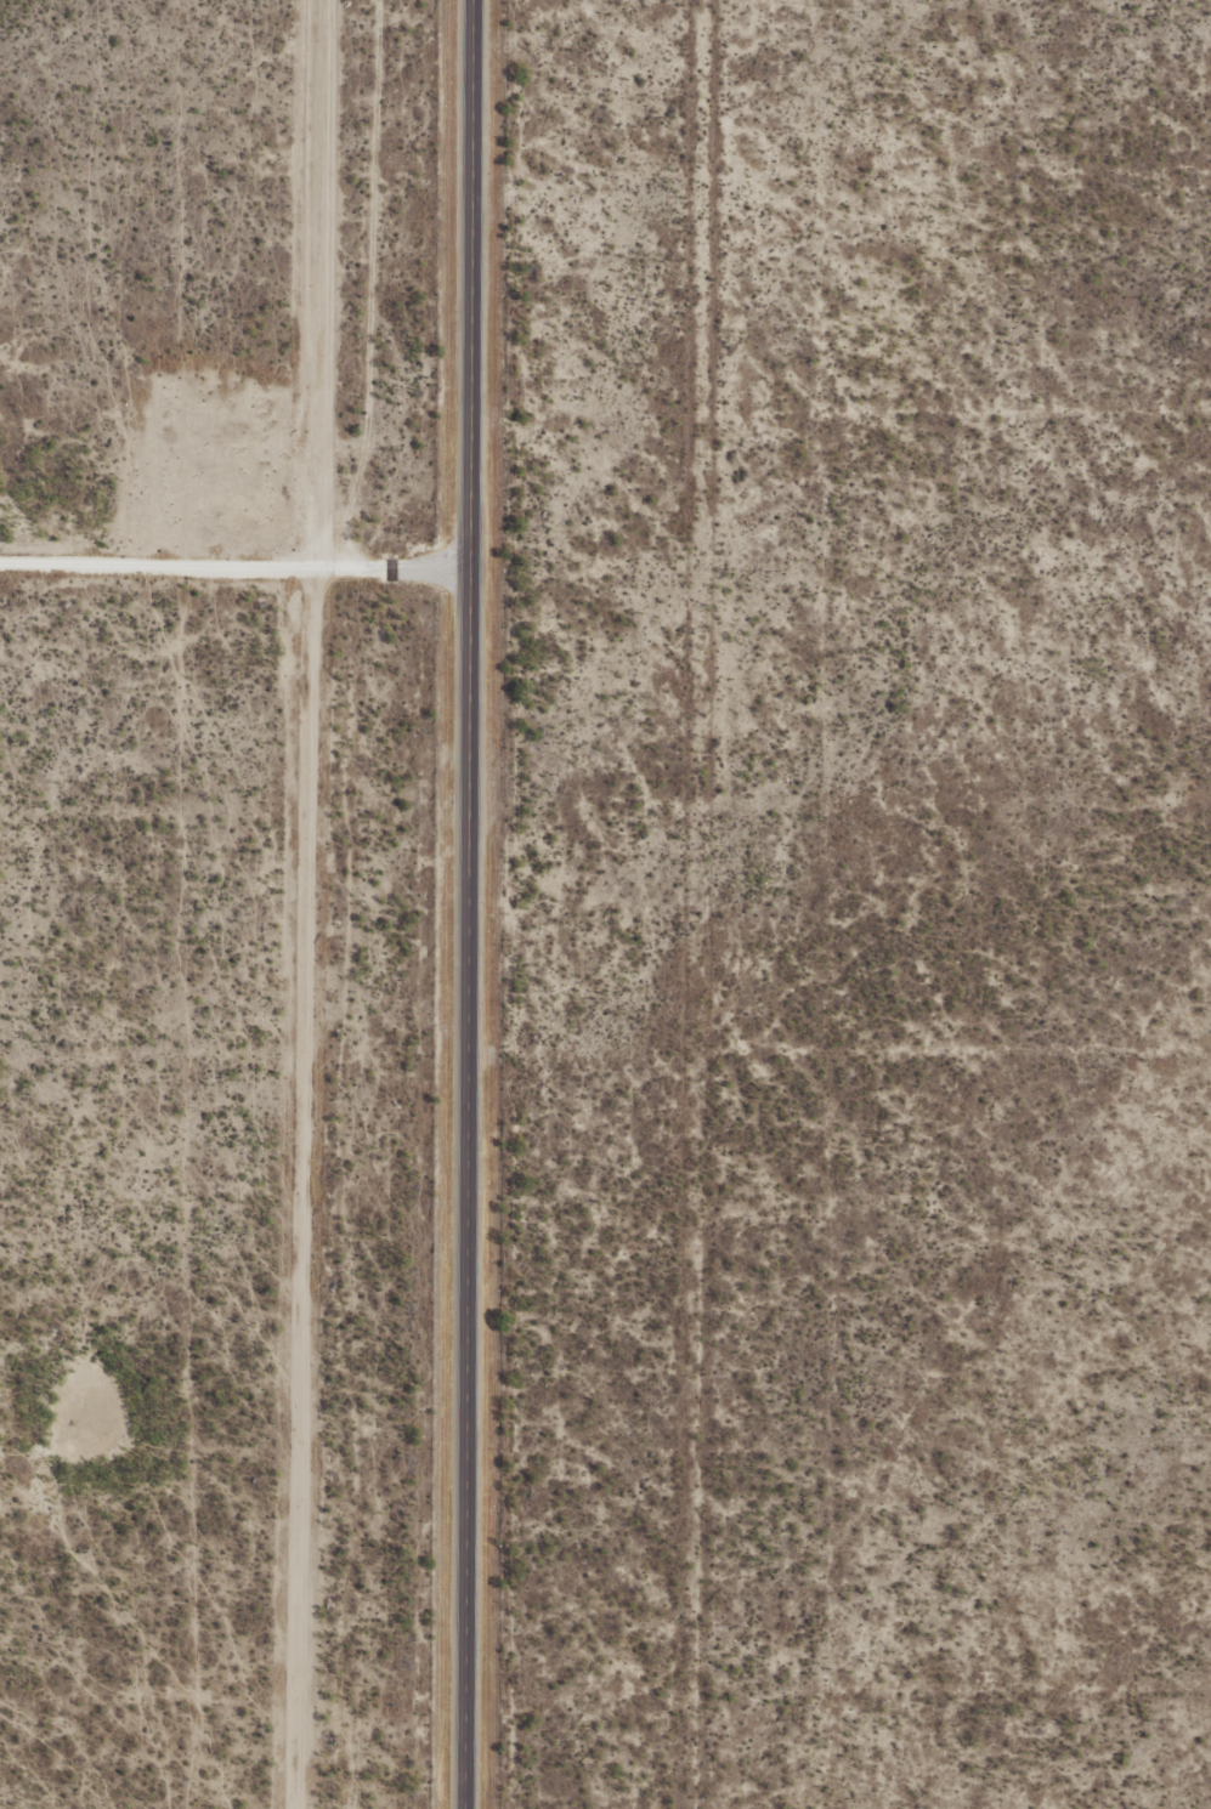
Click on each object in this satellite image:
road: (292, 270)
road: (232, 539)
road: (463, 903)

